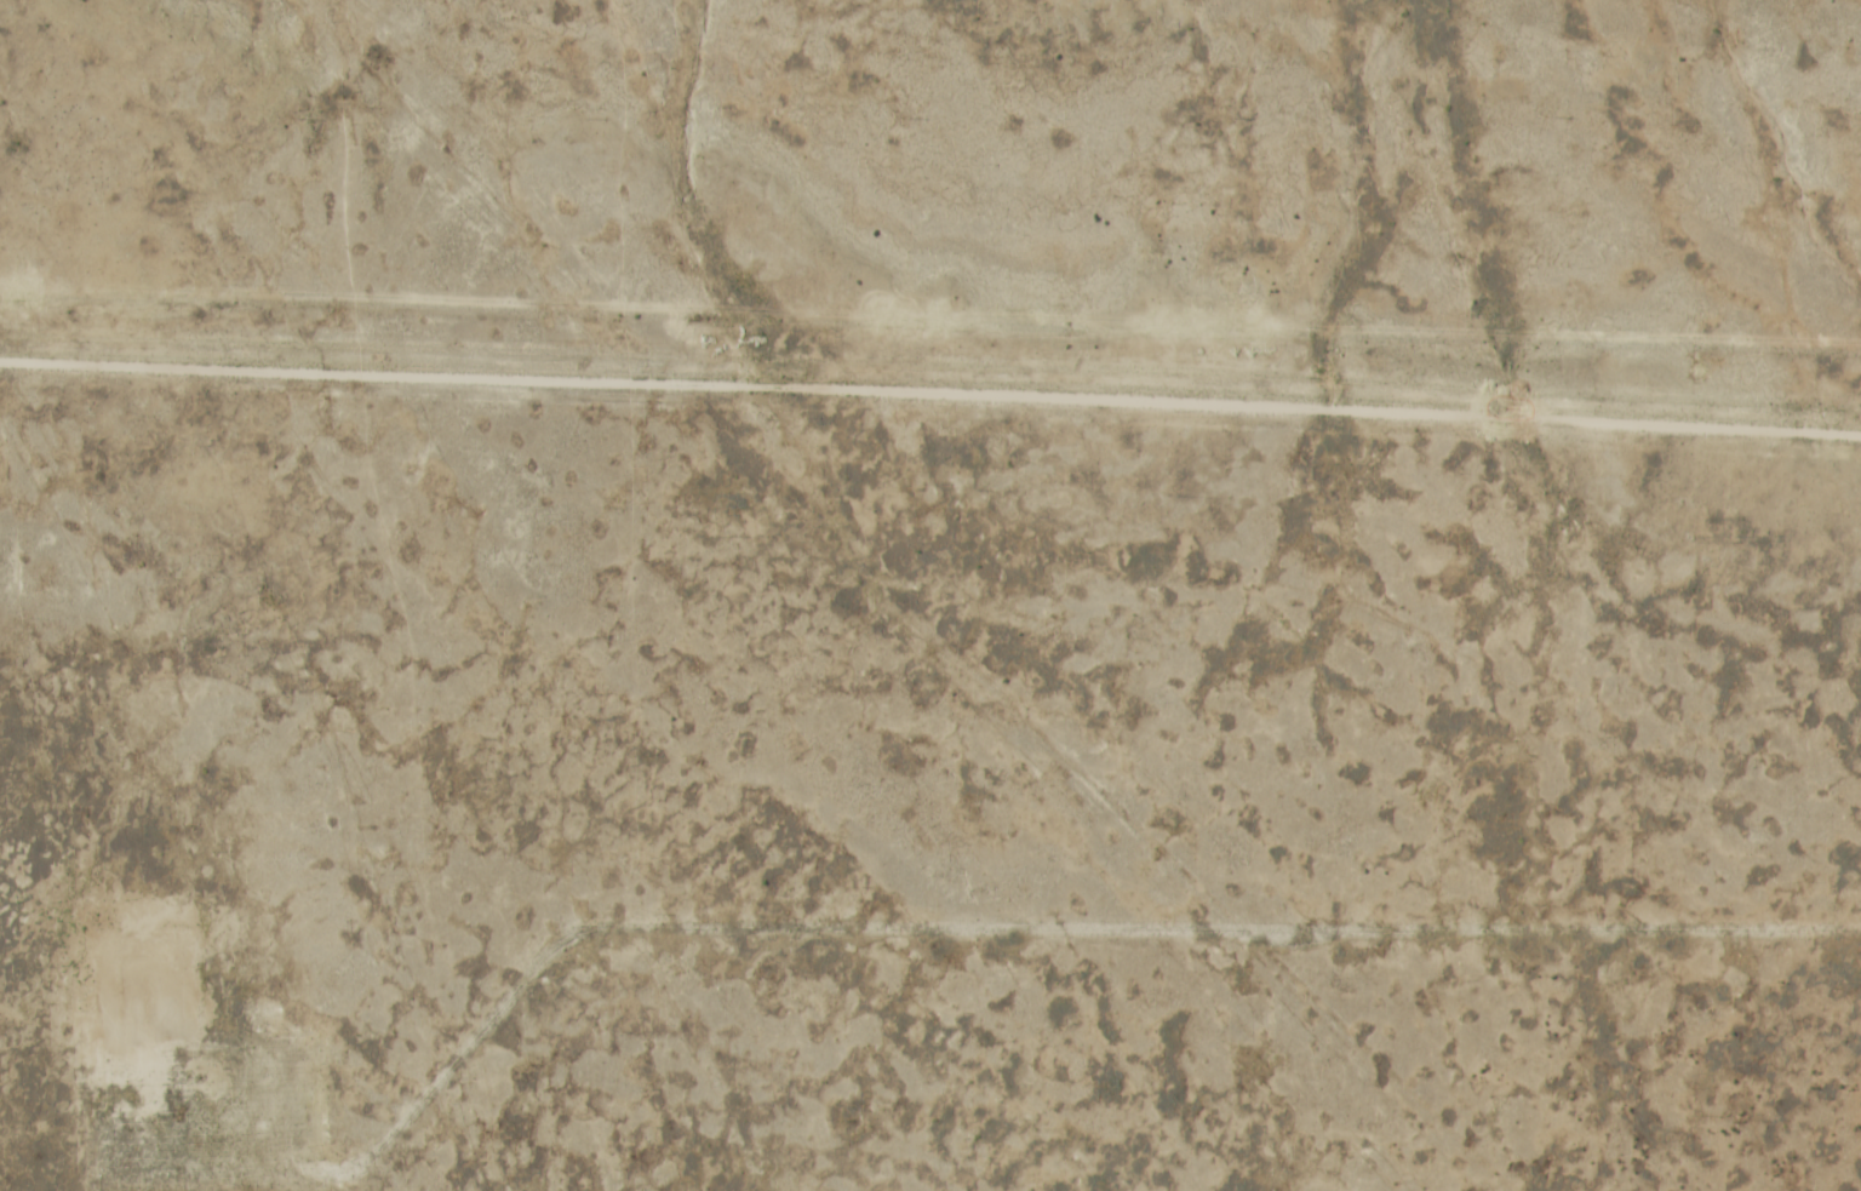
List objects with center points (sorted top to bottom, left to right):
road: (930, 406)

